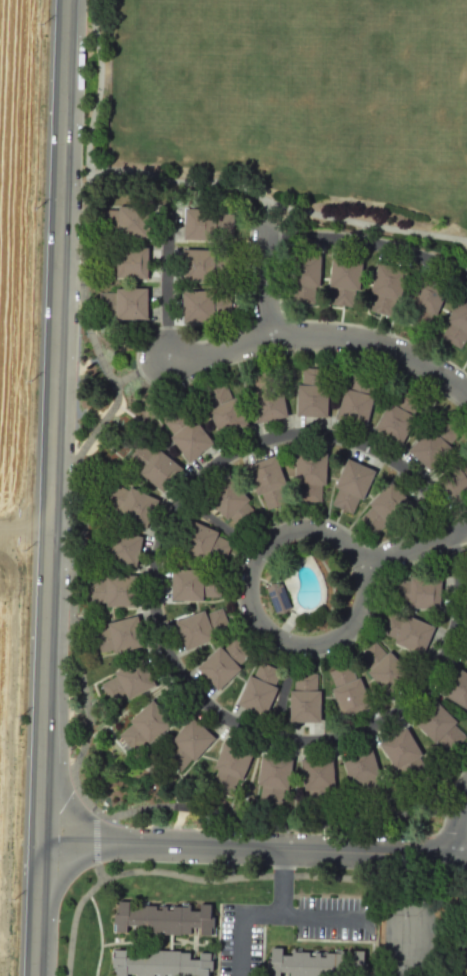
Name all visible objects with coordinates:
street lamp: (87, 36)
park: (455, 46)
park: (190, 64)
park: (351, 69)
road: (98, 86)
park: (287, 109)
street lamp: (83, 124)
road: (277, 202)
crop: (11, 216)
building: (126, 221)
building: (206, 223)
road: (367, 242)
building: (124, 262)
building: (206, 264)
building: (303, 276)
building: (344, 278)
road: (264, 285)
road: (166, 287)
building: (386, 287)
building: (424, 301)
building: (124, 303)
building: (205, 304)
building: (457, 323)
road: (323, 334)
street lamp: (77, 358)
road: (139, 372)
building: (312, 393)
building: (268, 396)
building: (357, 399)
building: (224, 410)
building: (398, 416)
road: (51, 420)
building: (186, 434)
building: (434, 443)
building: (154, 466)
building: (309, 476)
building: (268, 481)
building: (455, 481)
building: (351, 485)
building: (231, 503)
building: (131, 504)
building: (384, 508)
road: (23, 528)
building: (203, 542)
road: (412, 544)
building: (116, 547)
street lamp: (266, 560)
street lamp: (70, 569)
street lamp: (349, 570)
building: (193, 585)
building: (113, 590)
building: (417, 591)
building: (277, 597)
road: (5, 605)
road: (246, 611)
building: (201, 627)
street lamp: (290, 631)
building: (407, 631)
building: (118, 636)
crop: (1, 652)
building: (465, 652)
building: (223, 662)
building: (383, 667)
road: (80, 671)
building: (128, 681)
building: (456, 687)
building: (259, 689)
building: (348, 690)
road: (196, 694)
building: (304, 699)
building: (439, 725)
building: (144, 726)
building: (187, 745)
road: (6, 747)
building: (404, 754)
street lamp: (68, 763)
building: (230, 765)
building: (360, 767)
building: (273, 778)
building: (318, 781)
road: (463, 813)
road: (456, 824)
street lamp: (131, 826)
road: (95, 840)
road: (252, 848)
road: (98, 875)
road: (320, 877)
road: (35, 908)
road: (293, 915)
street lamp: (58, 919)
building: (161, 920)
road: (239, 923)
road: (73, 924)
park: (422, 929)
parking lot: (333, 933)
park: (403, 937)
building: (358, 960)
building: (314, 963)
building: (159, 964)

